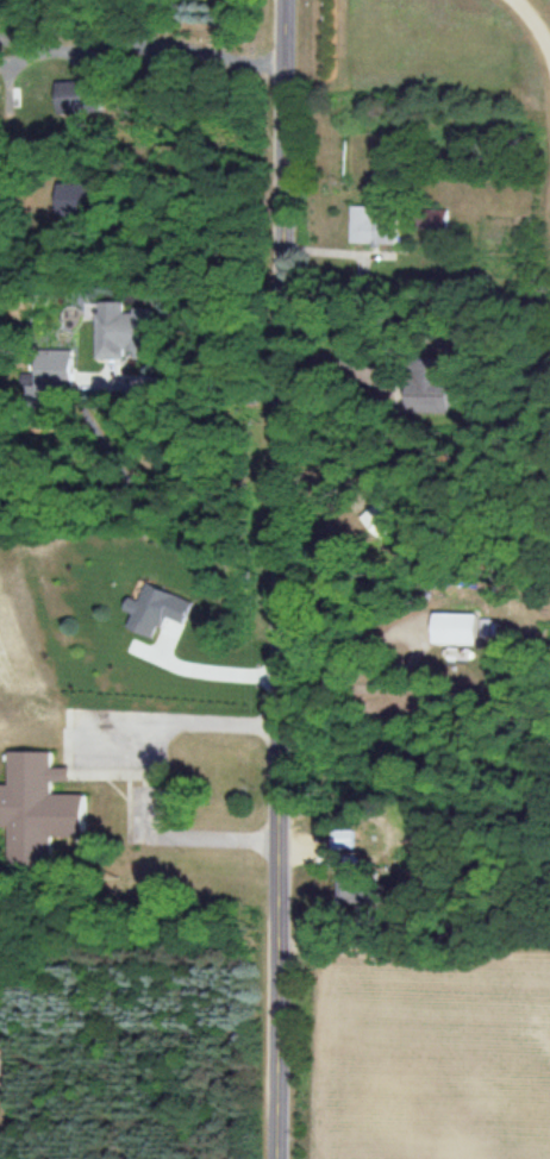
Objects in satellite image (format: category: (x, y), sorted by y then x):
road: (537, 18)
building: (77, 100)
building: (75, 200)
building: (375, 227)
building: (118, 334)
building: (424, 389)
building: (383, 519)
road: (280, 578)
building: (458, 631)
building: (33, 632)
building: (40, 817)
building: (343, 844)
building: (355, 895)

